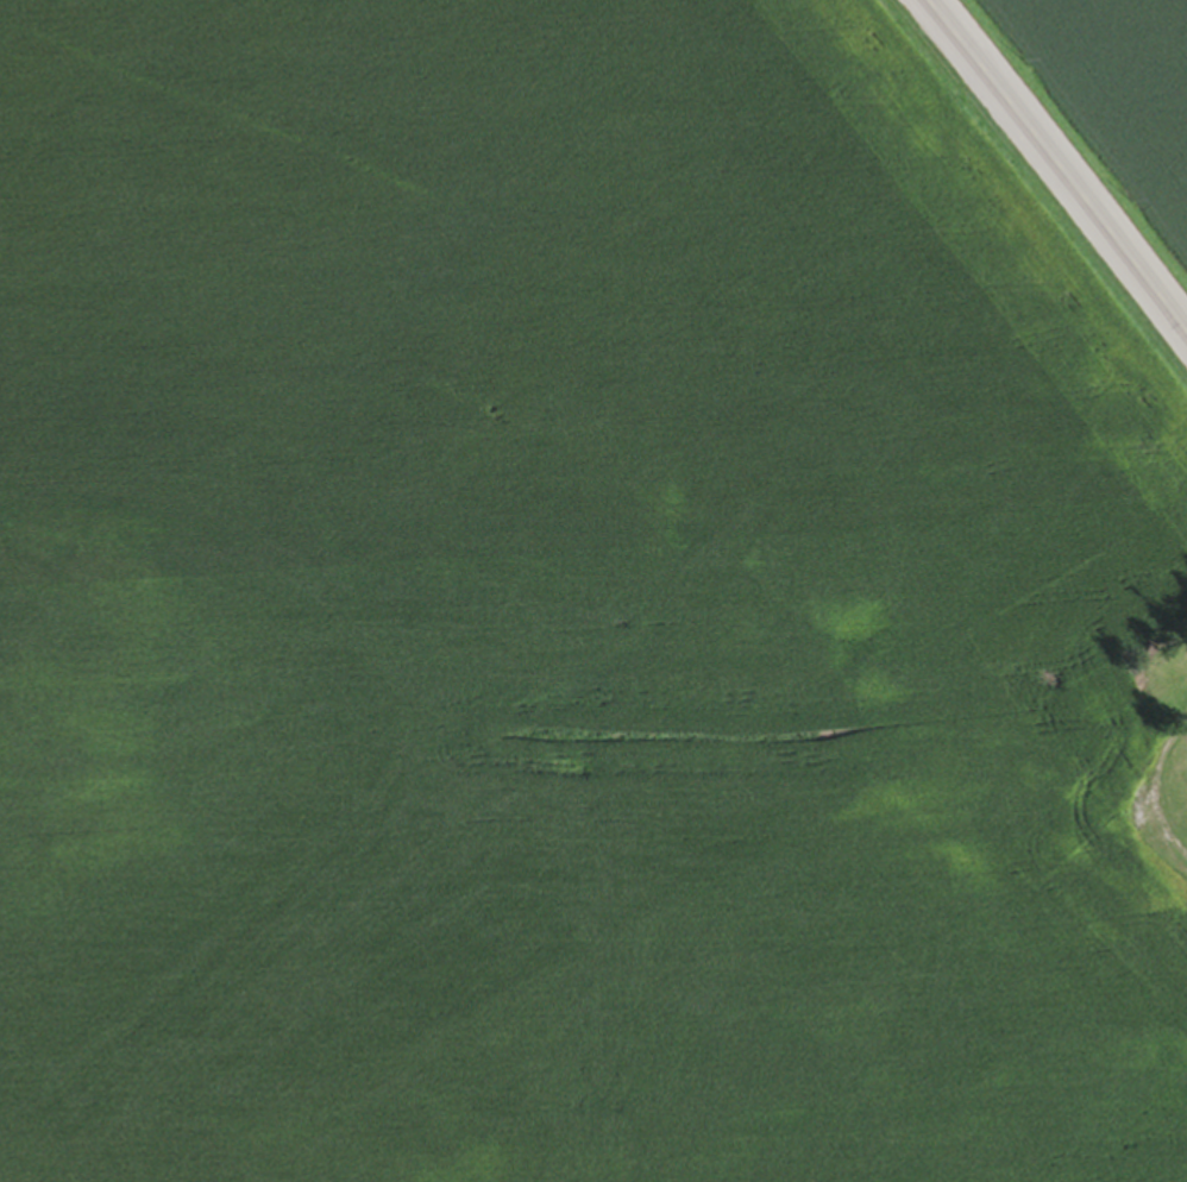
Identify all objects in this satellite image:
road: (1061, 168)
road: (1138, 779)

